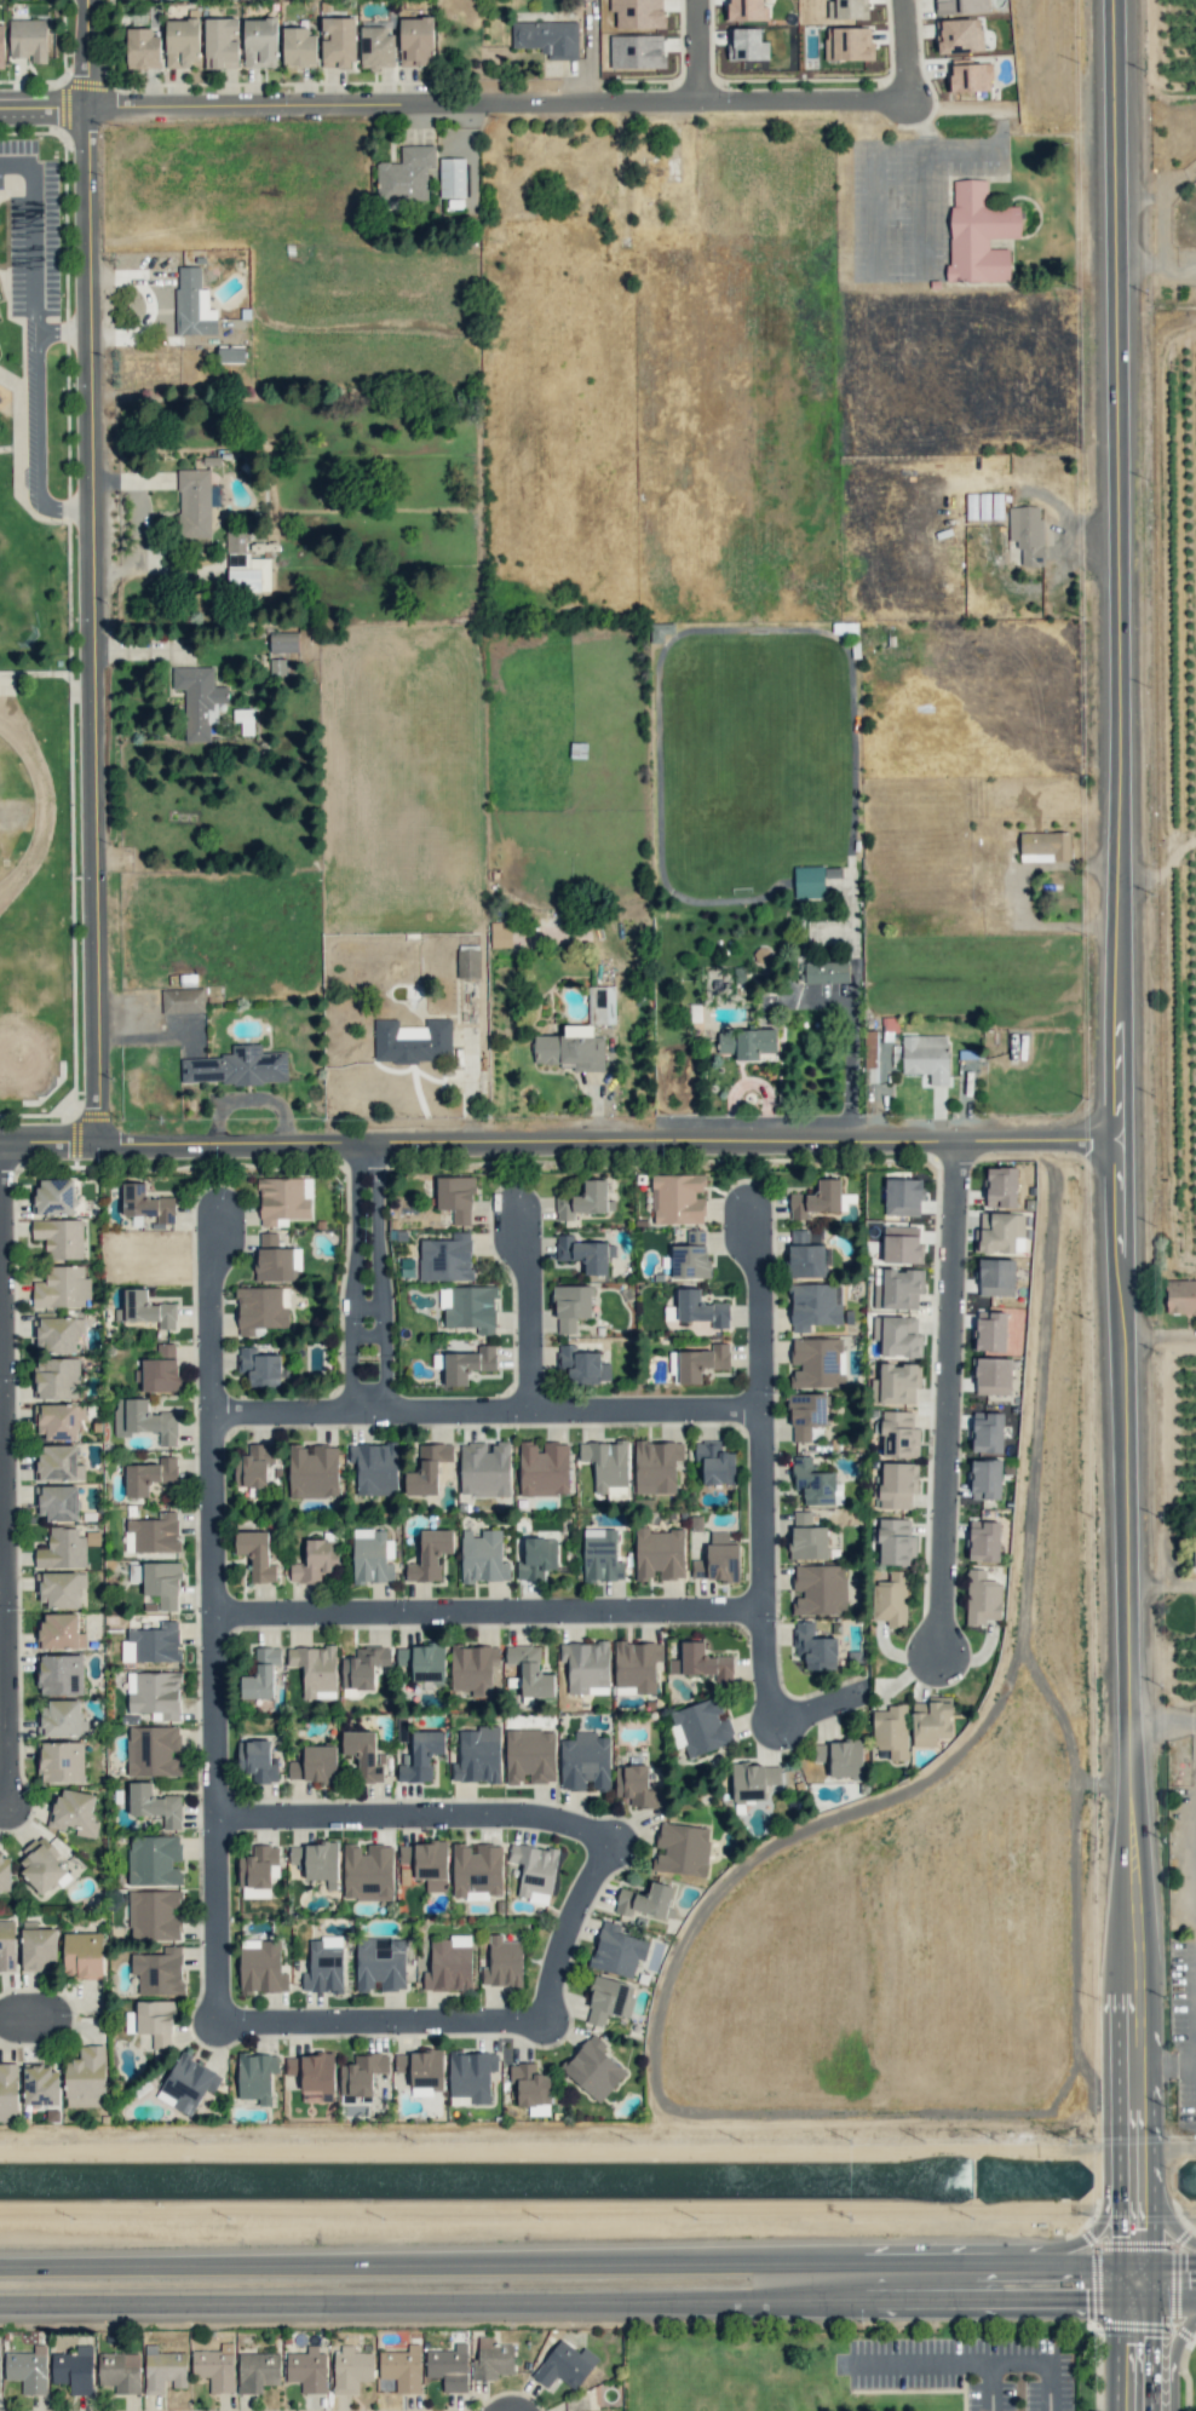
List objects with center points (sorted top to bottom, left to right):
building: (959, 6)
building: (747, 10)
building: (847, 10)
building: (638, 13)
building: (960, 35)
building: (547, 38)
building: (28, 39)
building: (416, 40)
building: (182, 41)
building: (220, 42)
building: (260, 42)
building: (338, 42)
building: (849, 44)
building: (376, 45)
building: (747, 45)
building: (1, 46)
building: (298, 46)
building: (143, 48)
building: (637, 51)
road: (694, 51)
crop: (1161, 56)
building: (971, 77)
road: (550, 104)
road: (47, 110)
road: (966, 149)
building: (406, 174)
building: (452, 177)
building: (978, 234)
road: (34, 235)
parking lot: (27, 241)
road: (872, 246)
building: (192, 304)
building: (230, 353)
road: (36, 419)
building: (194, 502)
building: (1027, 533)
road: (989, 556)
building: (248, 563)
road: (100, 571)
building: (660, 631)
building: (283, 641)
building: (278, 668)
building: (199, 700)
crop: (1162, 779)
building: (1045, 846)
building: (809, 881)
road: (1023, 894)
building: (500, 934)
building: (467, 961)
building: (823, 972)
building: (183, 1000)
building: (602, 1005)
park: (31, 1028)
building: (412, 1041)
building: (747, 1042)
building: (570, 1048)
building: (926, 1057)
building: (236, 1066)
road: (563, 1138)
road: (1126, 1146)
building: (1001, 1187)
building: (54, 1196)
building: (903, 1196)
building: (455, 1197)
building: (678, 1198)
building: (283, 1199)
building: (816, 1199)
building: (583, 1201)
building: (145, 1203)
building: (999, 1232)
building: (59, 1237)
building: (902, 1244)
building: (585, 1254)
building: (804, 1255)
building: (690, 1256)
building: (445, 1258)
building: (272, 1259)
road: (366, 1276)
building: (996, 1277)
building: (62, 1288)
building: (897, 1288)
building: (1180, 1296)
building: (813, 1305)
building: (468, 1307)
building: (570, 1307)
road: (755, 1307)
building: (145, 1308)
building: (701, 1308)
road: (208, 1310)
building: (261, 1310)
road: (525, 1310)
building: (990, 1330)
building: (58, 1334)
building: (897, 1336)
road: (1162, 1339)
building: (697, 1363)
building: (816, 1363)
building: (465, 1364)
building: (583, 1365)
building: (259, 1366)
building: (159, 1370)
building: (993, 1376)
building: (57, 1377)
building: (896, 1383)
road: (933, 1402)
road: (482, 1410)
building: (806, 1414)
building: (58, 1420)
building: (143, 1420)
building: (987, 1432)
building: (898, 1434)
building: (715, 1462)
building: (58, 1463)
building: (606, 1463)
building: (253, 1466)
building: (656, 1466)
building: (374, 1467)
building: (544, 1468)
building: (427, 1469)
building: (484, 1469)
building: (312, 1471)
building: (149, 1475)
building: (985, 1479)
building: (812, 1483)
building: (896, 1485)
building: (57, 1502)
building: (155, 1532)
building: (807, 1537)
building: (983, 1541)
building: (895, 1542)
building: (62, 1549)
building: (1195, 1553)
building: (255, 1554)
building: (659, 1554)
building: (430, 1555)
building: (602, 1555)
building: (372, 1556)
building: (483, 1556)
building: (537, 1558)
building: (315, 1560)
building: (718, 1560)
road: (758, 1566)
building: (162, 1583)
building: (61, 1588)
building: (820, 1589)
building: (982, 1598)
building: (891, 1599)
road: (485, 1611)
building: (151, 1644)
building: (813, 1647)
building: (422, 1662)
building: (701, 1662)
building: (363, 1667)
building: (586, 1667)
building: (636, 1667)
building: (473, 1668)
building: (315, 1669)
building: (530, 1670)
building: (61, 1674)
building: (261, 1674)
building: (154, 1693)
road: (815, 1709)
road: (212, 1716)
building: (59, 1719)
building: (931, 1721)
road: (1163, 1722)
building: (701, 1726)
building: (891, 1731)
crop: (1169, 1745)
building: (153, 1750)
building: (364, 1755)
building: (421, 1755)
building: (478, 1755)
building: (530, 1756)
building: (840, 1757)
building: (62, 1761)
building: (257, 1761)
building: (585, 1761)
building: (315, 1763)
building: (753, 1780)
building: (637, 1786)
building: (154, 1805)
building: (74, 1812)
road: (410, 1816)
building: (682, 1848)
building: (154, 1860)
building: (317, 1862)
building: (426, 1863)
building: (42, 1866)
building: (258, 1866)
building: (476, 1870)
building: (5, 1871)
building: (368, 1871)
building: (534, 1871)
building: (644, 1900)
building: (154, 1915)
road: (558, 1927)
building: (7, 1945)
building: (38, 1949)
building: (617, 1950)
road: (1192, 1952)
building: (84, 1955)
building: (502, 1962)
building: (380, 1963)
building: (449, 1964)
building: (323, 1966)
building: (260, 1967)
building: (159, 1972)
building: (609, 1999)
road: (19, 2014)
building: (153, 2021)
road: (374, 2021)
building: (593, 2068)
building: (421, 2070)
building: (312, 2071)
building: (361, 2073)
building: (255, 2076)
building: (471, 2076)
building: (86, 2078)
building: (188, 2084)
building: (41, 2085)
building: (530, 2088)
building: (8, 2091)
road: (1163, 2219)
road: (1048, 2250)
road: (374, 2263)
road: (775, 2271)
road: (1166, 2278)
road: (968, 2279)
road: (746, 2295)
road: (344, 2296)
road: (1137, 2352)
road: (1172, 2359)
building: (493, 2360)
building: (565, 2365)
building: (215, 2367)
building: (449, 2367)
building: (28, 2369)
building: (163, 2369)
building: (351, 2369)
building: (402, 2369)
building: (74, 2370)
building: (307, 2370)
building: (119, 2371)
building: (257, 2371)

